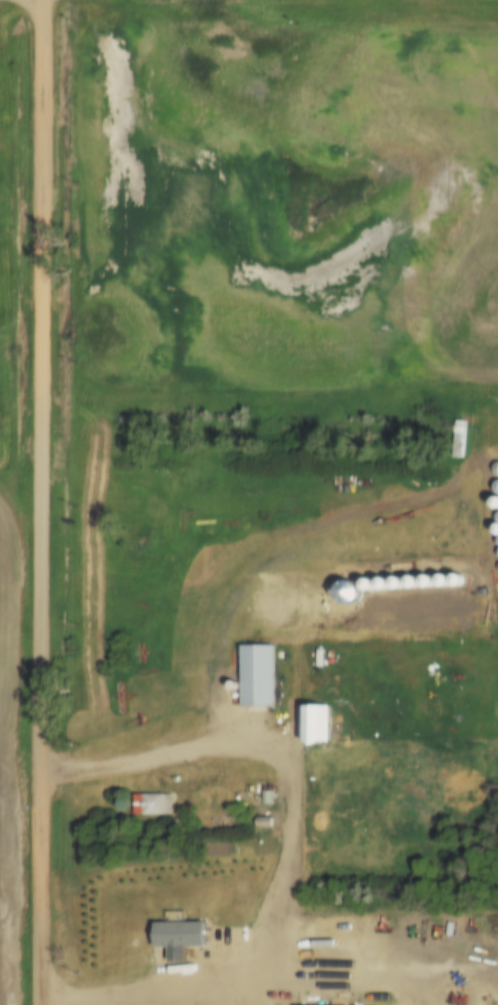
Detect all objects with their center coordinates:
building: (463, 437)
road: (40, 502)
building: (461, 575)
silo: (461, 575)
building: (446, 576)
silo: (446, 576)
building: (431, 577)
silo: (431, 577)
building: (401, 578)
silo: (401, 578)
building: (415, 578)
silo: (415, 578)
building: (386, 579)
silo: (386, 579)
building: (281, 602)
building: (330, 603)
building: (262, 671)
building: (237, 681)
silo: (237, 681)
building: (319, 719)
building: (158, 800)
road: (291, 841)
building: (185, 930)
building: (316, 1004)

